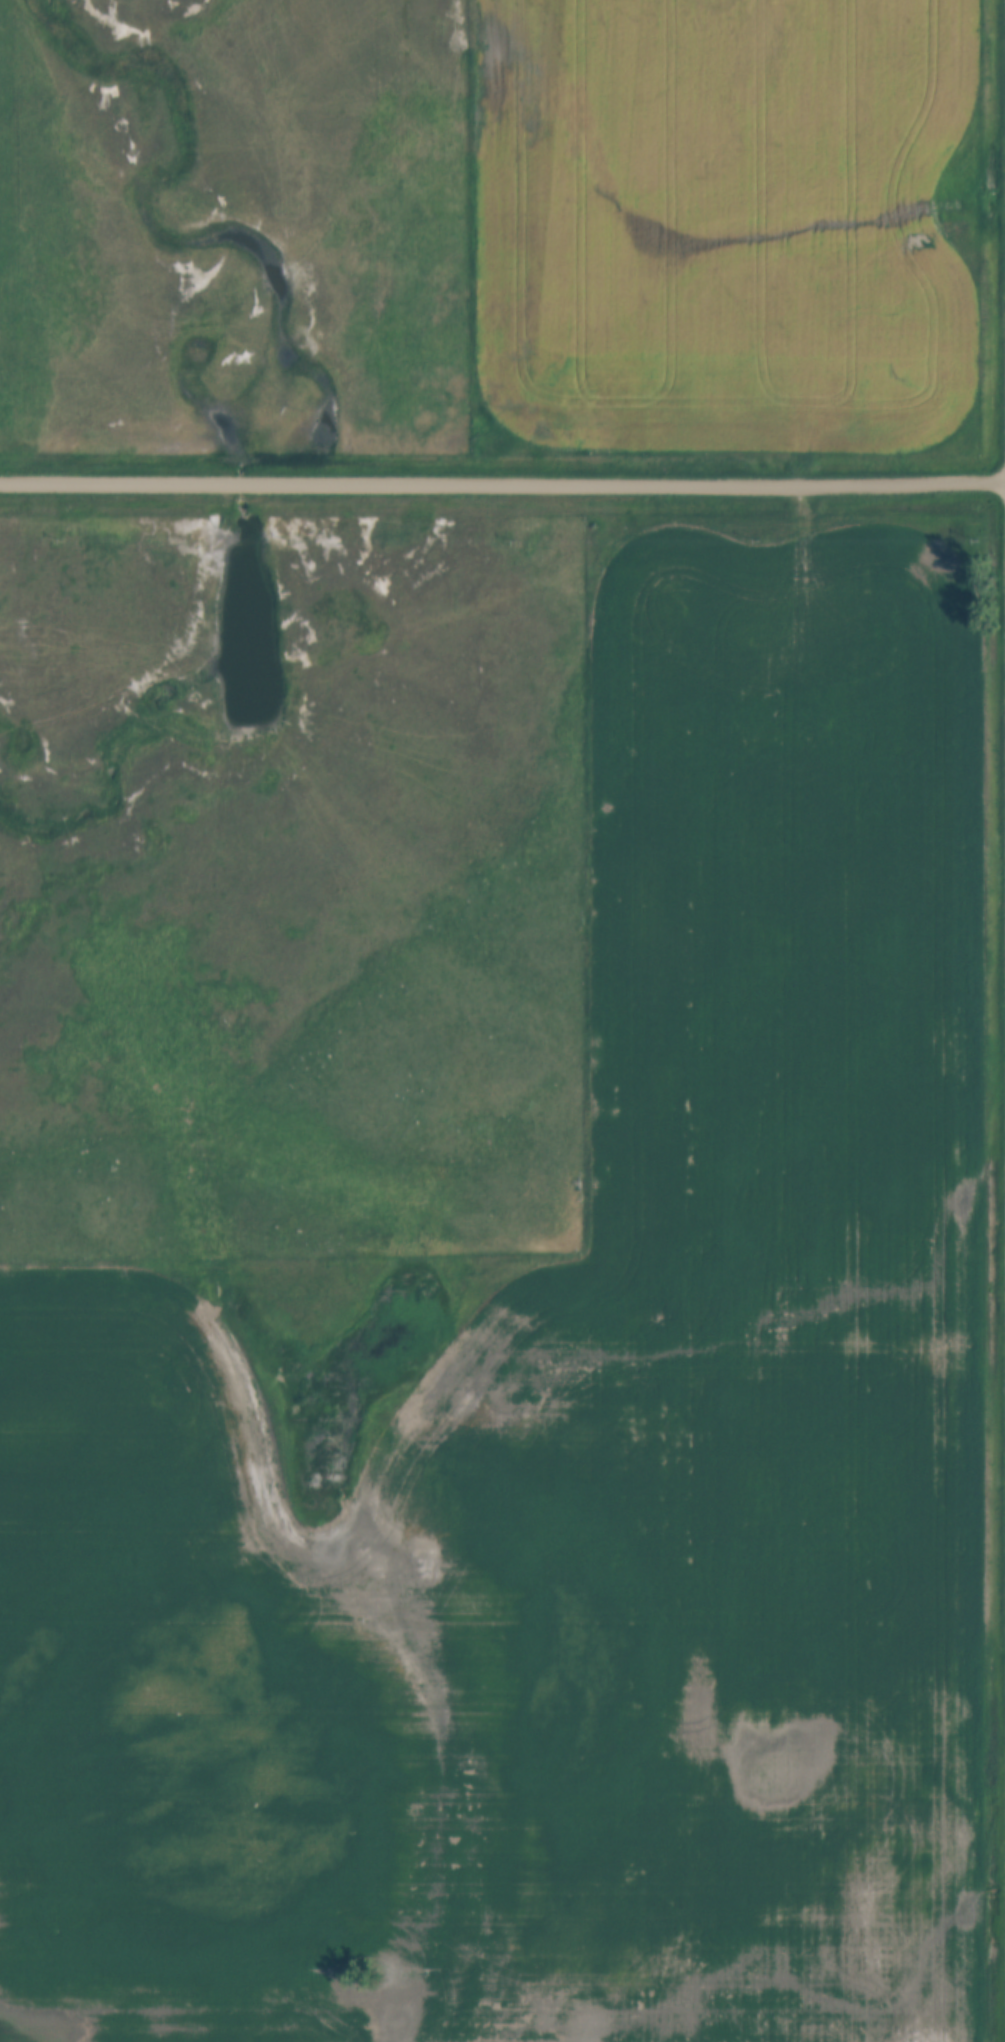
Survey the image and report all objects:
road: (502, 483)

